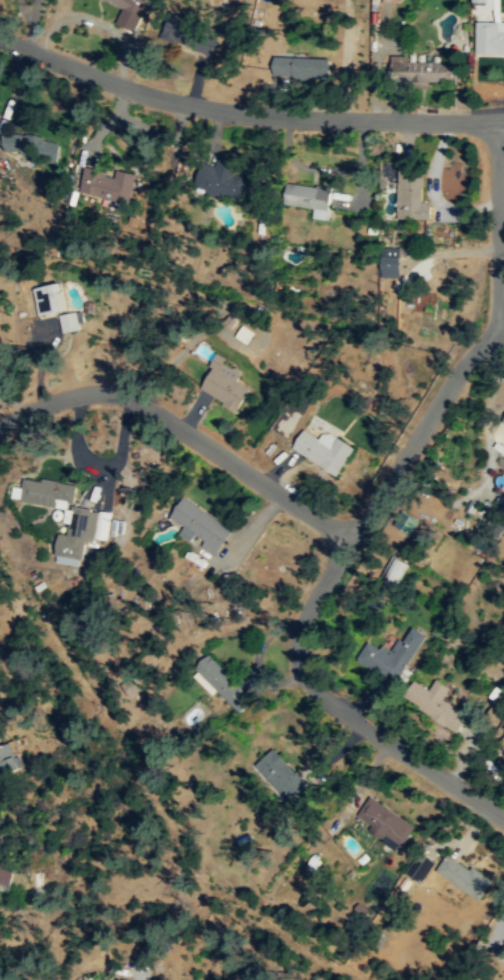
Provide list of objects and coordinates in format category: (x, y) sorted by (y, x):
building: (483, 4)
building: (129, 12)
road: (95, 22)
building: (186, 32)
building: (489, 38)
building: (300, 67)
building: (421, 70)
road: (244, 116)
road: (502, 118)
building: (27, 145)
building: (223, 181)
building: (103, 185)
building: (411, 192)
building: (309, 197)
building: (390, 261)
building: (47, 298)
building: (69, 320)
road: (501, 321)
road: (482, 347)
building: (224, 383)
building: (503, 423)
road: (183, 430)
building: (323, 449)
building: (46, 491)
building: (200, 525)
building: (76, 532)
building: (393, 570)
road: (318, 593)
building: (390, 654)
building: (221, 680)
building: (434, 703)
building: (502, 742)
road: (390, 745)
building: (7, 756)
building: (278, 774)
building: (384, 822)
building: (420, 867)
building: (462, 875)
building: (6, 876)

